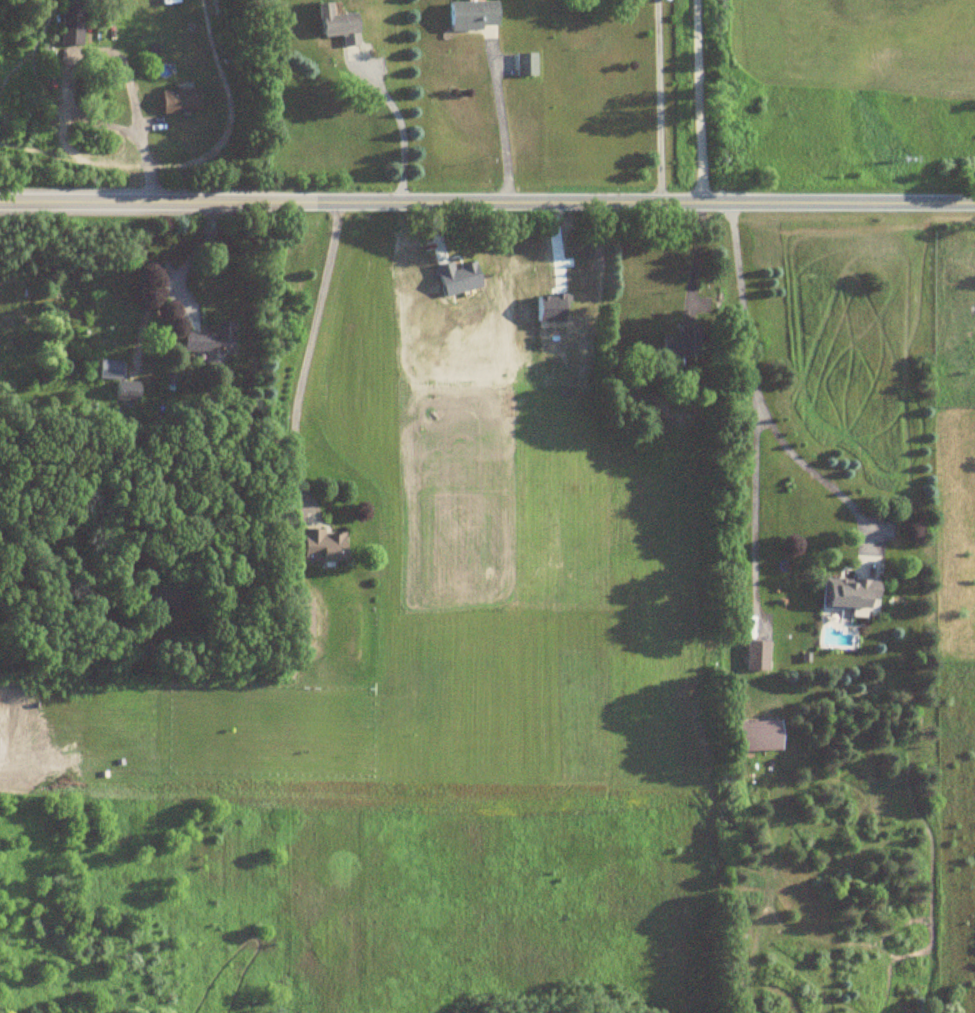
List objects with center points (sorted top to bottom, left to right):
building: (470, 16)
building: (69, 23)
building: (333, 26)
road: (104, 50)
building: (523, 65)
park: (837, 86)
building: (177, 101)
road: (696, 101)
road: (658, 102)
road: (500, 127)
road: (399, 132)
road: (487, 204)
road: (690, 258)
building: (210, 343)
building: (678, 344)
road: (307, 351)
building: (108, 370)
building: (125, 392)
road: (756, 396)
road: (753, 508)
building: (319, 547)
crop: (442, 576)
building: (848, 596)
building: (298, 620)
building: (755, 657)
road: (81, 664)
building: (756, 737)

